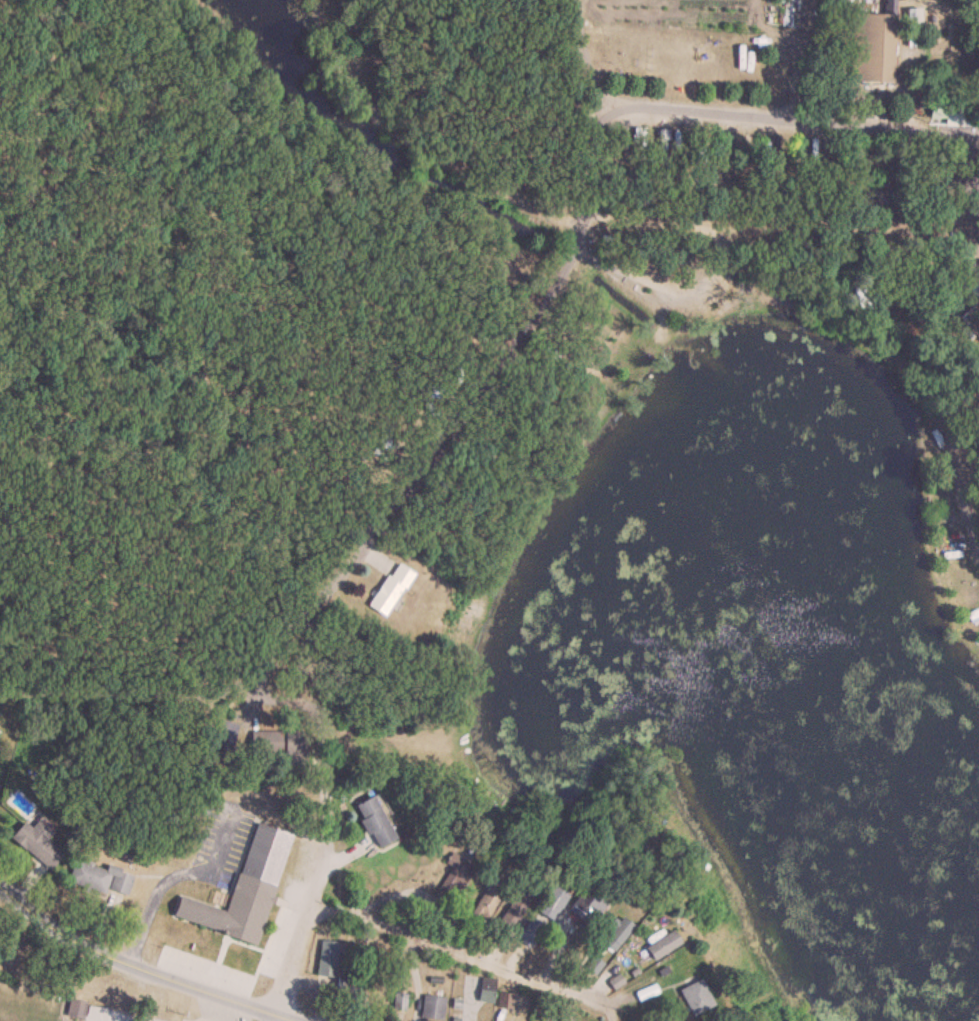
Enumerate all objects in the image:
building: (871, 49)
road: (813, 110)
building: (862, 296)
building: (975, 311)
building: (388, 588)
road: (352, 672)
road: (122, 689)
building: (373, 821)
building: (36, 843)
road: (305, 874)
road: (168, 877)
building: (455, 877)
building: (99, 878)
building: (244, 889)
building: (489, 895)
building: (551, 902)
building: (586, 903)
building: (512, 914)
building: (529, 931)
building: (615, 932)
road: (470, 937)
building: (661, 945)
building: (327, 956)
road: (141, 969)
building: (615, 980)
building: (487, 990)
building: (694, 997)
building: (432, 1007)
building: (75, 1009)

